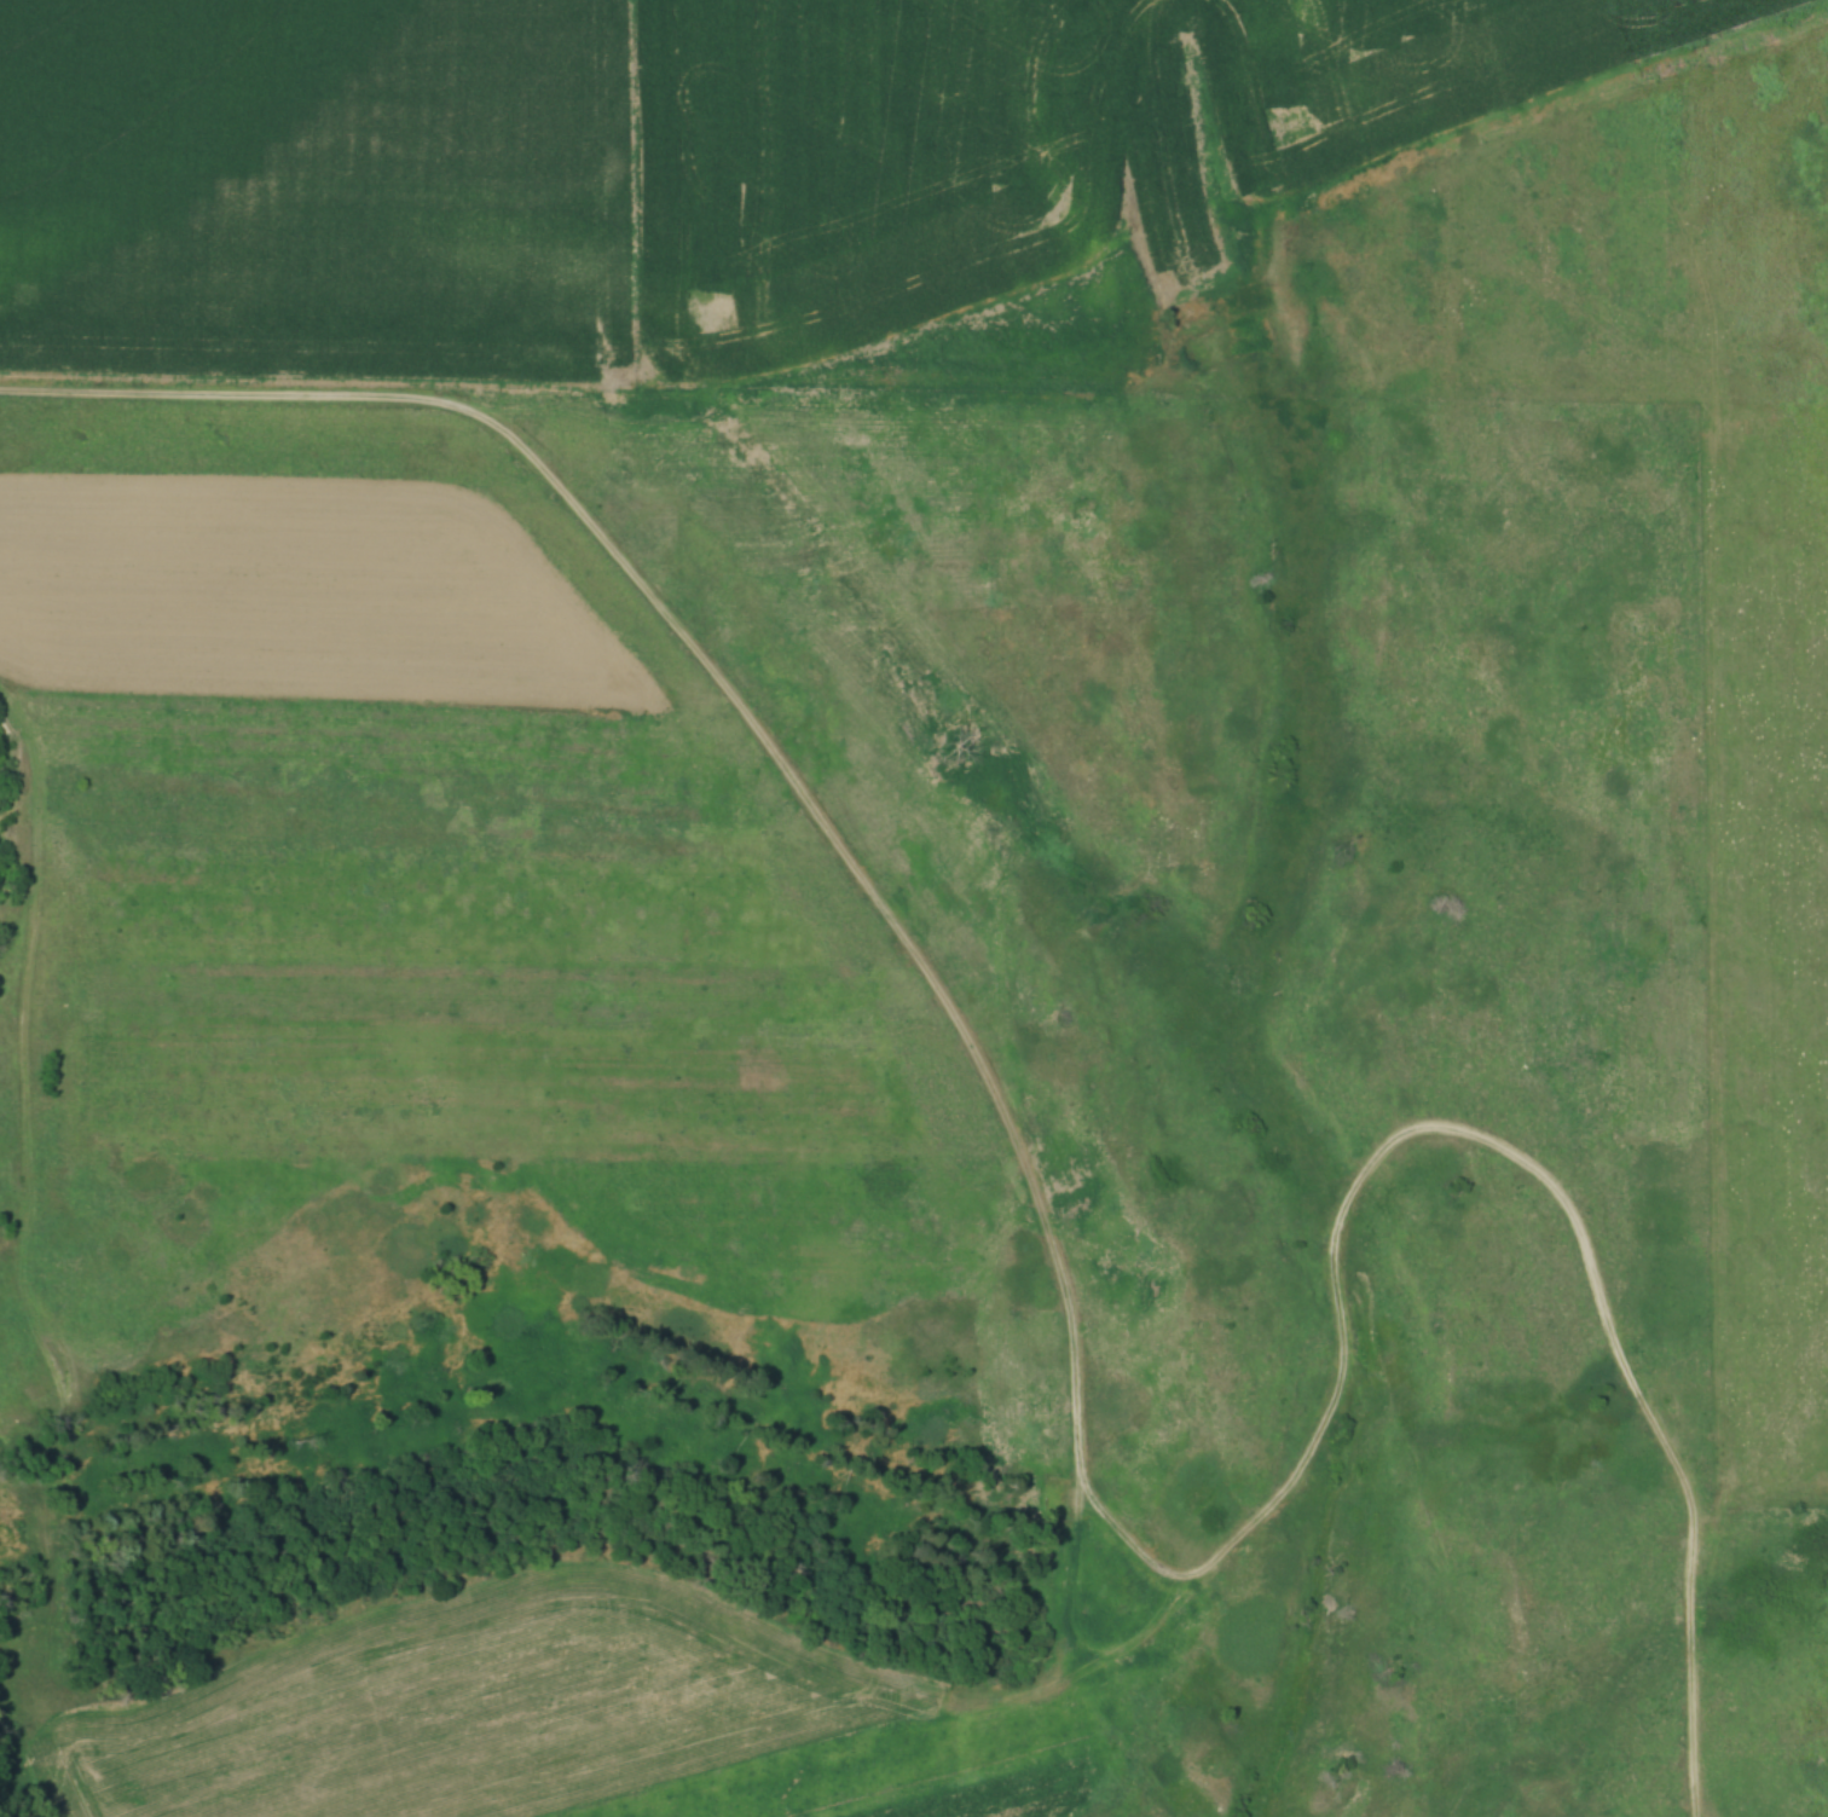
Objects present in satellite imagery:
crop: (170, 114)
crop: (1019, 135)
crop: (296, 596)
park: (861, 1112)
road: (1462, 1132)
crop: (469, 1714)
crop: (1000, 1801)

